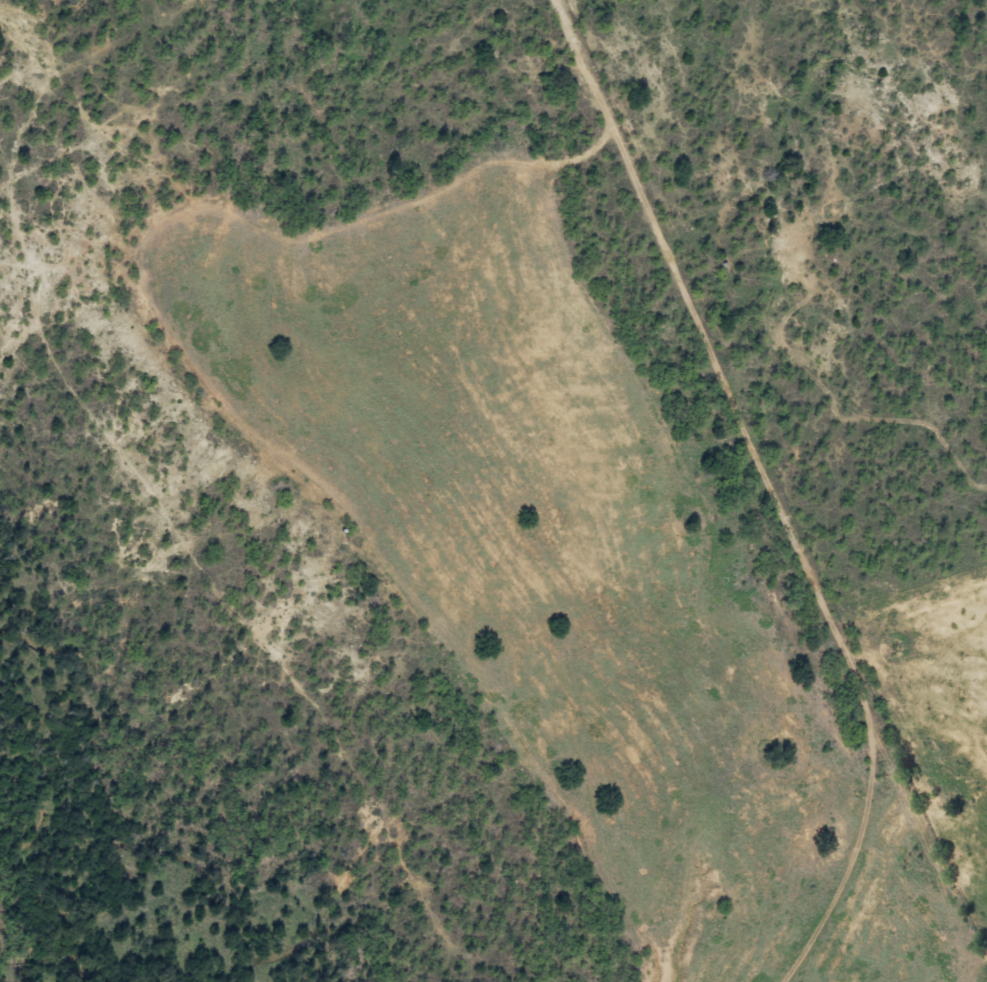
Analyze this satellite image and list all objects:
road: (110, 70)
road: (15, 80)
road: (835, 489)
road: (256, 550)

